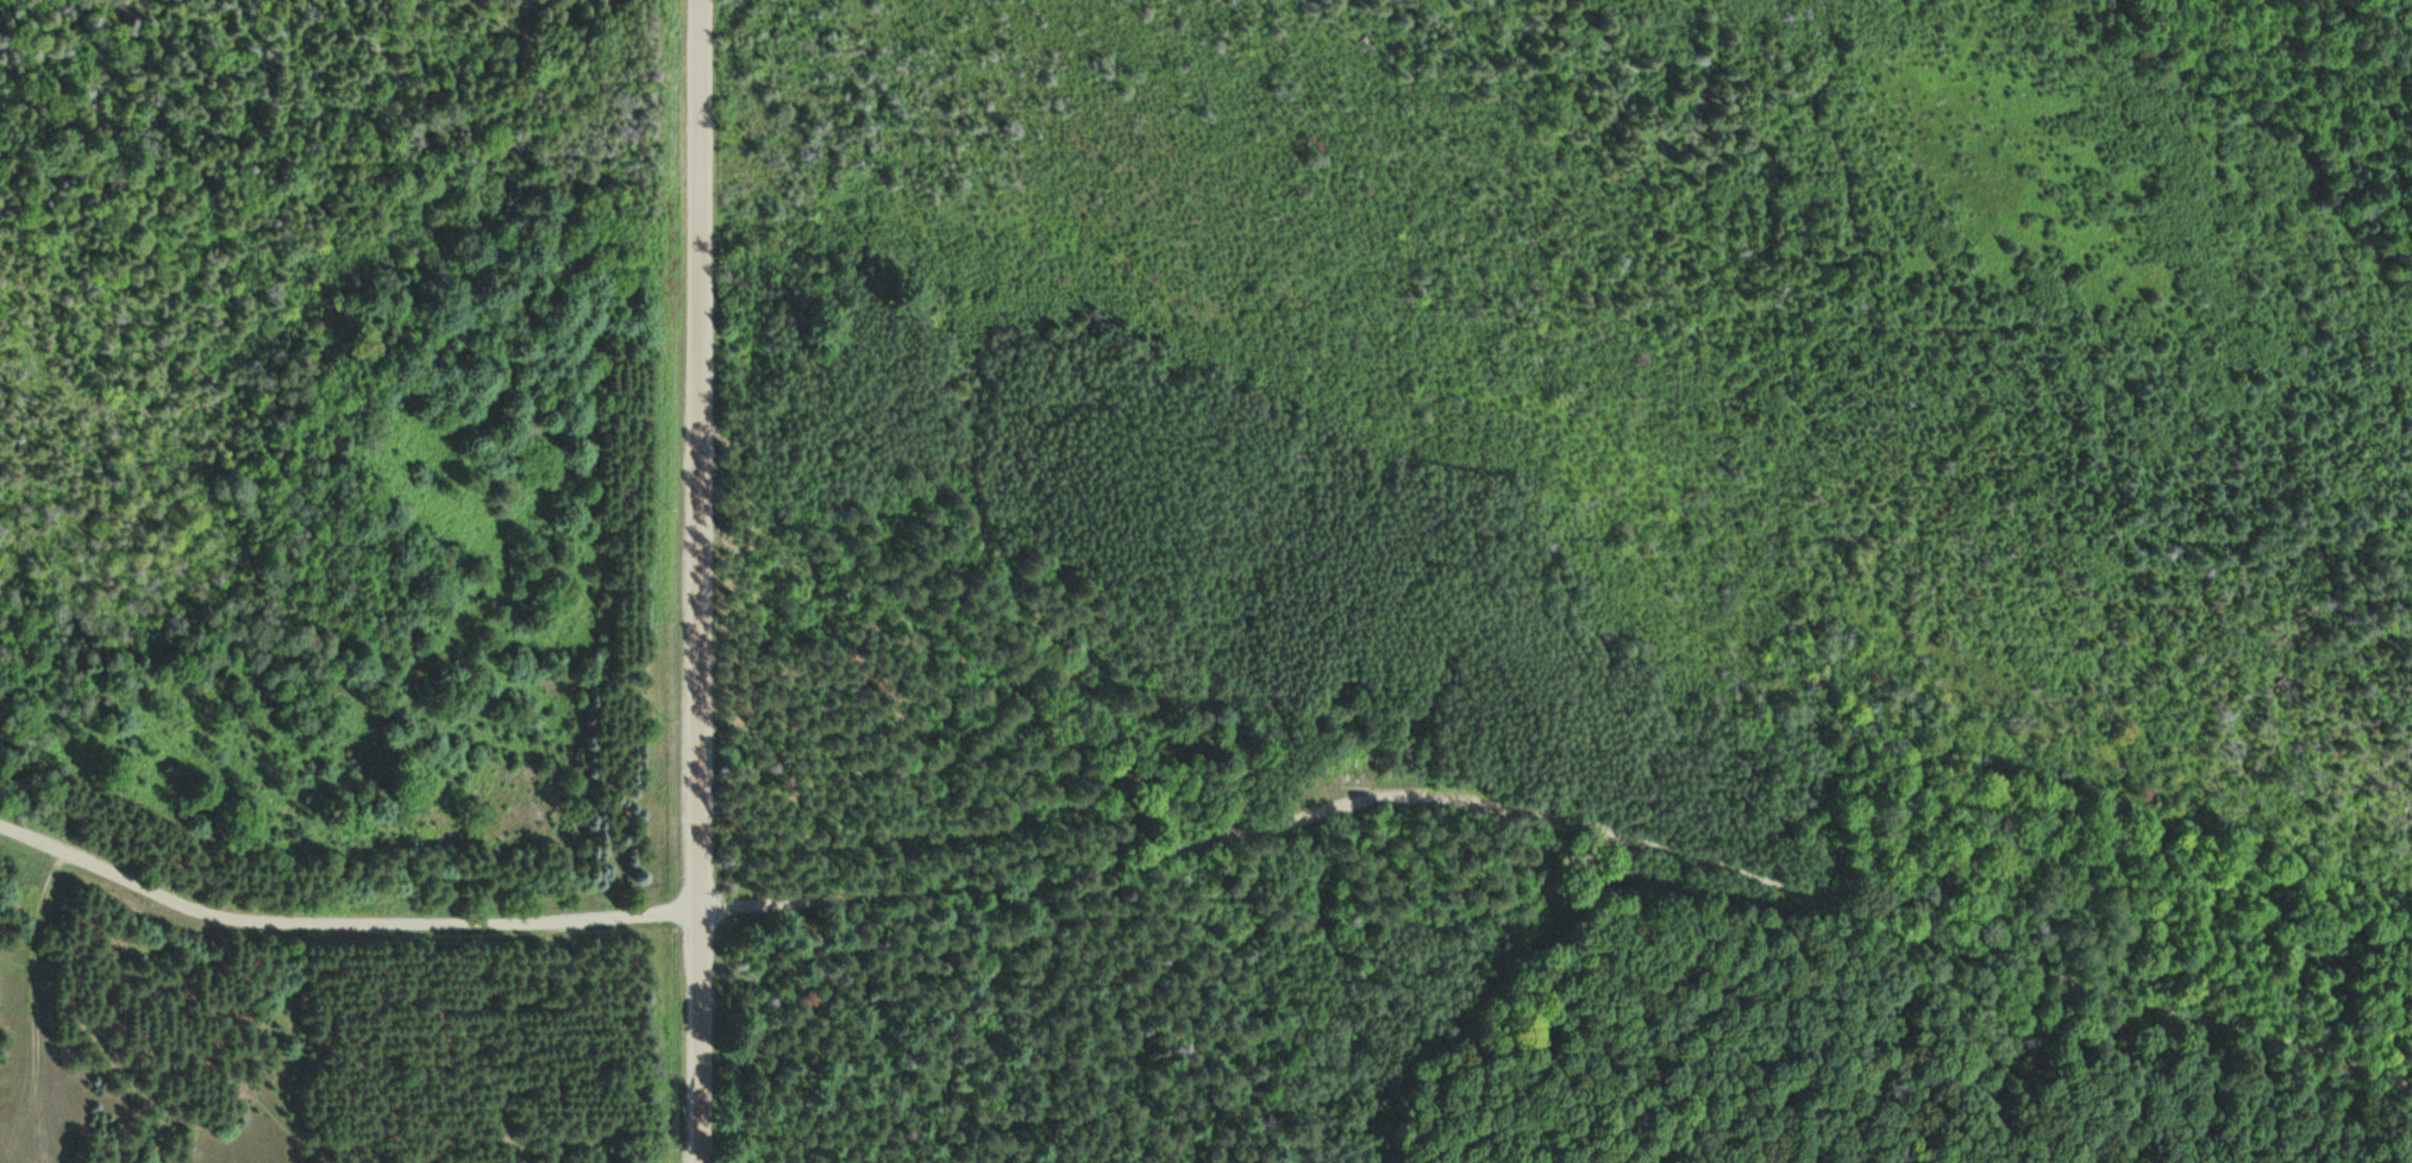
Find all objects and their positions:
road: (695, 581)
road: (950, 648)
road: (1216, 841)

